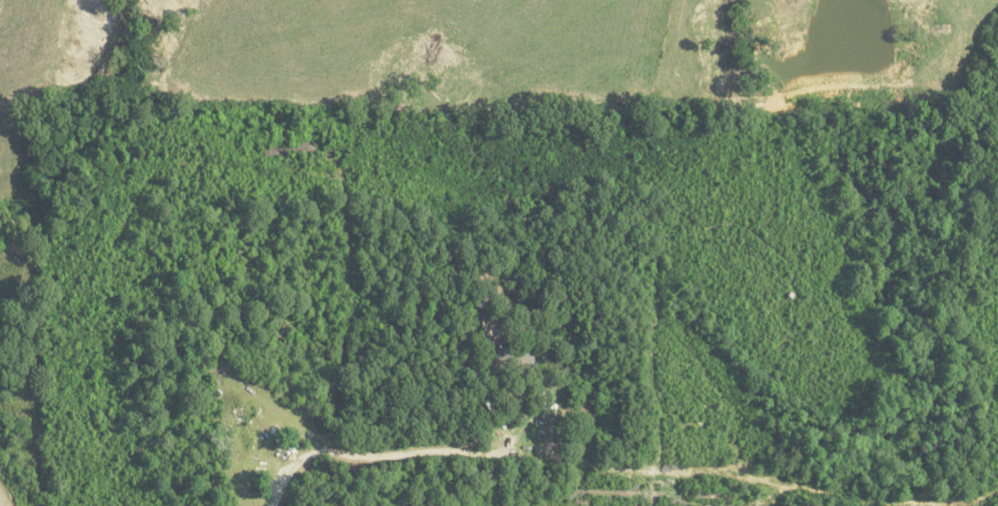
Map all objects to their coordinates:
road: (354, 450)

